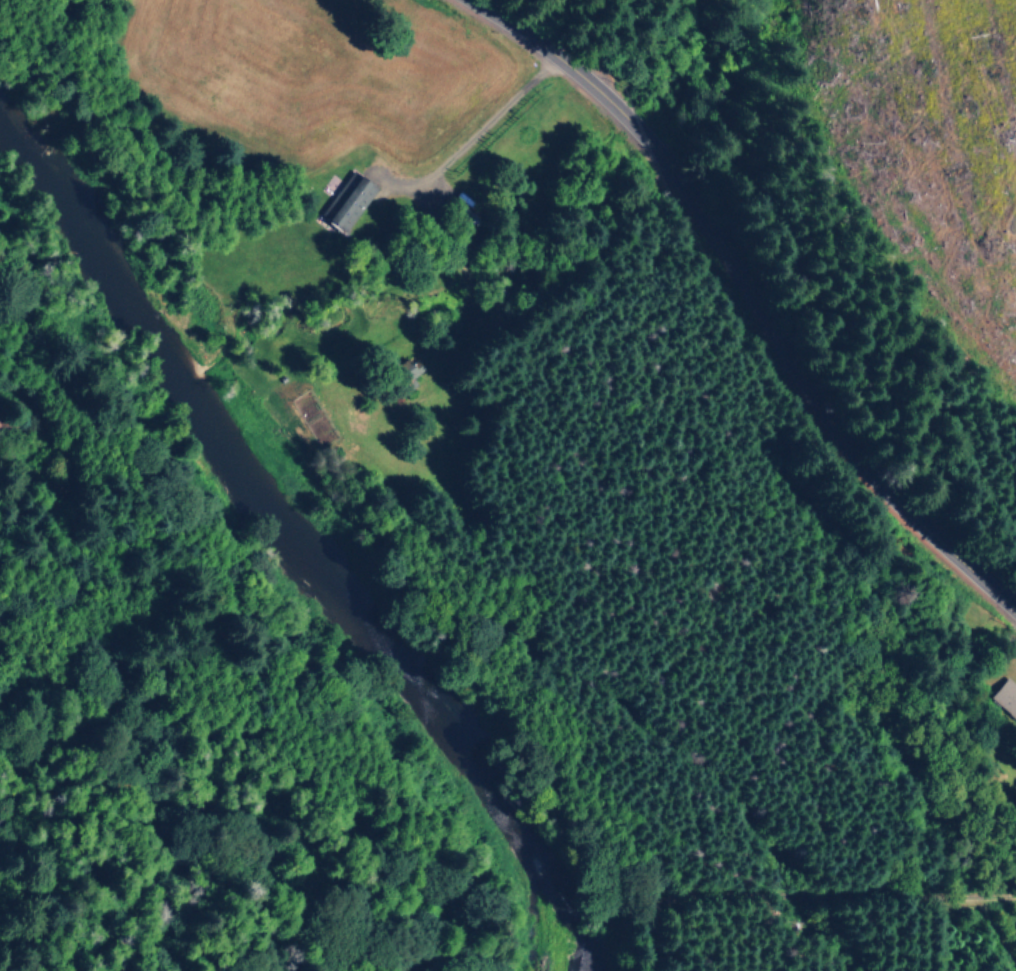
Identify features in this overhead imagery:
building: (346, 201)
road: (741, 303)
road: (579, 400)
river: (292, 540)
building: (1005, 697)

